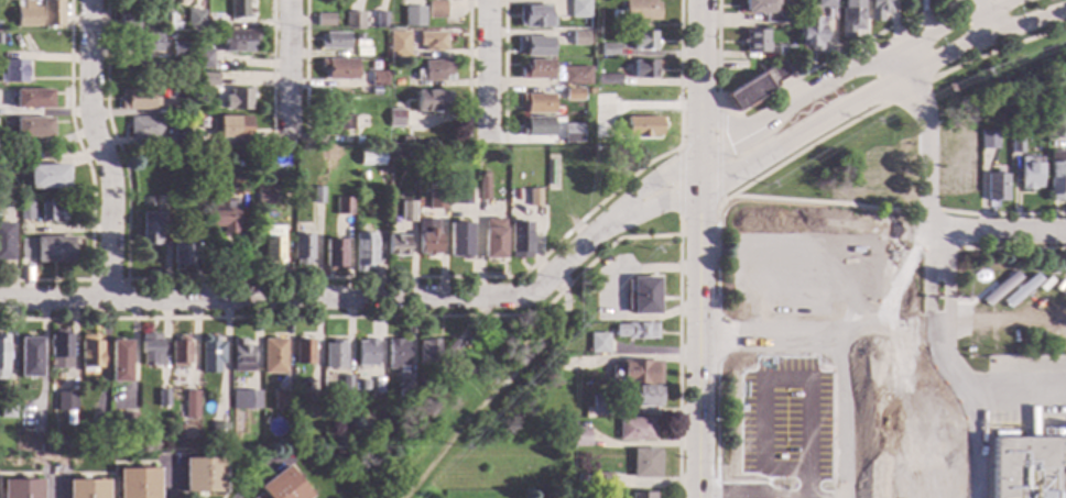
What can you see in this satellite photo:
building: (129, 0)
building: (152, 0)
building: (184, 0)
building: (826, 3)
building: (236, 9)
building: (435, 9)
building: (578, 9)
building: (878, 9)
building: (641, 10)
building: (762, 10)
building: (51, 13)
building: (24, 14)
building: (614, 15)
building: (412, 16)
building: (534, 16)
building: (786, 16)
building: (849, 16)
road: (982, 18)
building: (193, 19)
building: (323, 20)
building: (351, 20)
building: (165, 21)
building: (379, 21)
building: (126, 24)
building: (143, 26)
building: (208, 27)
building: (811, 32)
building: (197, 34)
building: (578, 38)
building: (331, 41)
building: (431, 41)
building: (643, 41)
building: (233, 42)
building: (755, 42)
building: (142, 43)
building: (396, 44)
building: (535, 46)
building: (177, 49)
building: (608, 49)
road: (998, 49)
building: (784, 51)
building: (377, 52)
road: (882, 52)
building: (202, 58)
road: (466, 62)
building: (337, 69)
building: (535, 69)
building: (643, 69)
road: (271, 70)
road: (287, 70)
road: (303, 70)
building: (12, 71)
building: (432, 71)
road: (486, 71)
road: (502, 71)
building: (193, 75)
building: (575, 76)
building: (207, 79)
building: (377, 79)
building: (607, 79)
building: (170, 84)
building: (757, 85)
road: (786, 85)
building: (192, 89)
building: (590, 91)
road: (879, 91)
road: (907, 91)
building: (572, 95)
building: (175, 96)
building: (192, 96)
building: (31, 98)
building: (236, 99)
building: (135, 100)
building: (431, 101)
building: (536, 103)
building: (394, 118)
building: (191, 121)
building: (334, 122)
building: (204, 125)
building: (535, 126)
building: (639, 126)
building: (31, 128)
building: (231, 128)
building: (143, 129)
building: (1063, 129)
building: (570, 133)
building: (989, 141)
building: (418, 142)
road: (725, 142)
building: (1016, 145)
road: (99, 148)
building: (180, 152)
building: (410, 155)
road: (718, 155)
building: (369, 157)
building: (161, 158)
building: (265, 158)
building: (193, 159)
building: (537, 163)
building: (960, 167)
building: (551, 173)
building: (1031, 173)
road: (929, 176)
building: (1057, 176)
building: (46, 177)
building: (845, 177)
building: (882, 177)
road: (89, 181)
road: (677, 181)
building: (238, 186)
building: (997, 187)
building: (482, 188)
building: (317, 195)
building: (264, 196)
building: (461, 197)
building: (532, 197)
building: (35, 198)
building: (436, 200)
road: (822, 202)
building: (342, 206)
building: (511, 206)
building: (220, 210)
building: (24, 211)
building: (406, 211)
road: (928, 211)
building: (51, 212)
road: (620, 214)
road: (1003, 214)
road: (677, 225)
building: (151, 228)
road: (990, 232)
building: (427, 237)
building: (491, 239)
building: (519, 239)
building: (457, 240)
building: (4, 242)
road: (765, 242)
building: (273, 246)
building: (396, 246)
road: (699, 248)
building: (45, 250)
building: (180, 250)
building: (302, 250)
road: (986, 250)
building: (362, 251)
road: (716, 254)
building: (333, 255)
parking lot: (798, 267)
road: (356, 278)
road: (106, 280)
road: (612, 294)
building: (643, 296)
road: (283, 297)
road: (485, 317)
building: (635, 331)
road: (888, 333)
building: (598, 343)
building: (88, 351)
building: (150, 351)
building: (58, 352)
building: (180, 352)
building: (433, 352)
building: (304, 353)
building: (367, 353)
building: (211, 355)
building: (240, 355)
building: (273, 355)
building: (334, 355)
building: (396, 355)
building: (3, 357)
building: (29, 357)
building: (119, 361)
building: (635, 373)
road: (771, 374)
building: (548, 380)
building: (345, 384)
building: (361, 386)
building: (404, 388)
road: (500, 390)
road: (842, 390)
building: (646, 396)
building: (162, 398)
building: (280, 399)
building: (311, 399)
building: (250, 400)
building: (65, 401)
building: (191, 405)
building: (600, 406)
building: (7, 409)
parking lot: (774, 416)
building: (126, 421)
building: (634, 429)
building: (218, 431)
building: (579, 436)
building: (96, 441)
building: (69, 444)
building: (342, 444)
building: (361, 444)
building: (2, 446)
building: (20, 446)
building: (42, 449)
road: (120, 463)
building: (644, 463)
building: (969, 468)
road: (65, 475)
building: (203, 475)
road: (259, 475)
road: (166, 477)
road: (296, 477)
building: (601, 479)
building: (137, 483)
building: (532, 483)
road: (54, 484)
building: (281, 486)
building: (21, 489)
building: (86, 489)
building: (641, 495)
road: (768, 496)

